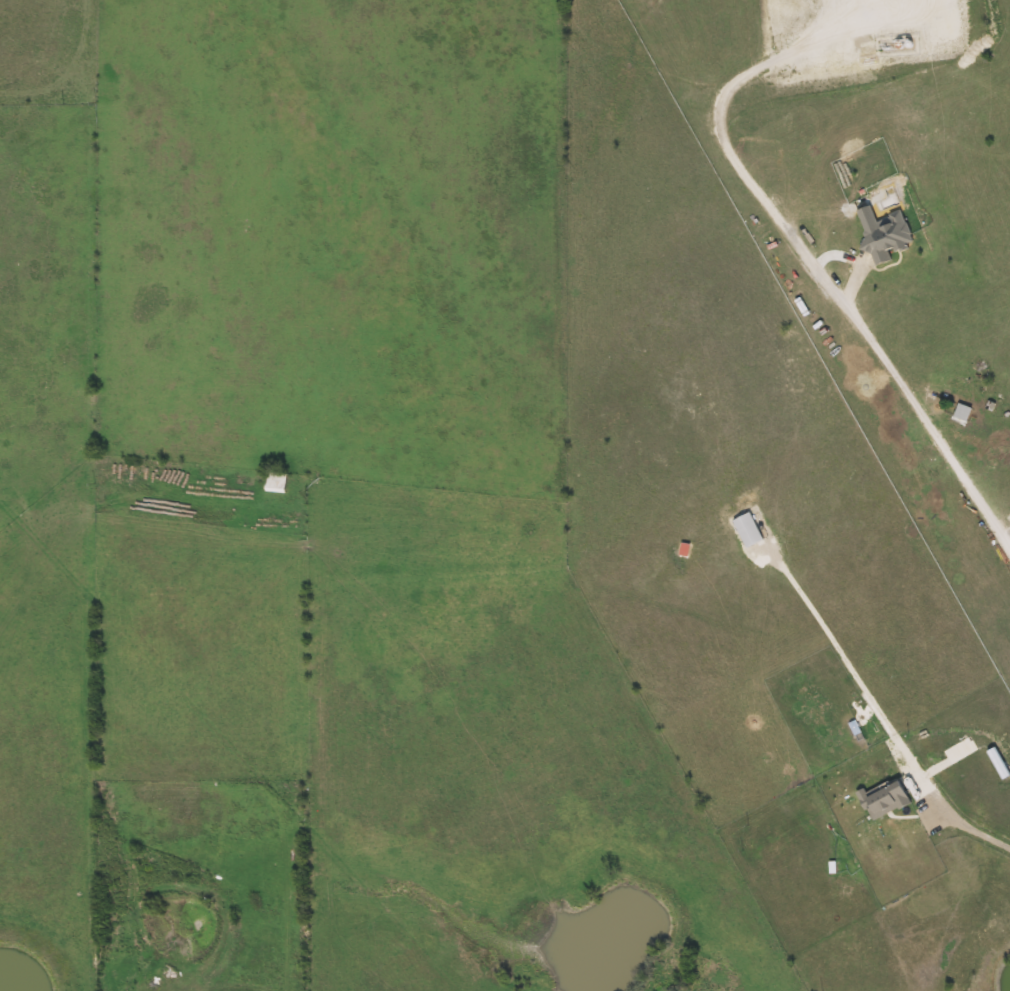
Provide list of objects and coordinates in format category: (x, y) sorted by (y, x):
building: (884, 233)
building: (963, 412)
road: (924, 419)
building: (277, 482)
building: (749, 530)
building: (886, 799)
road: (966, 822)

